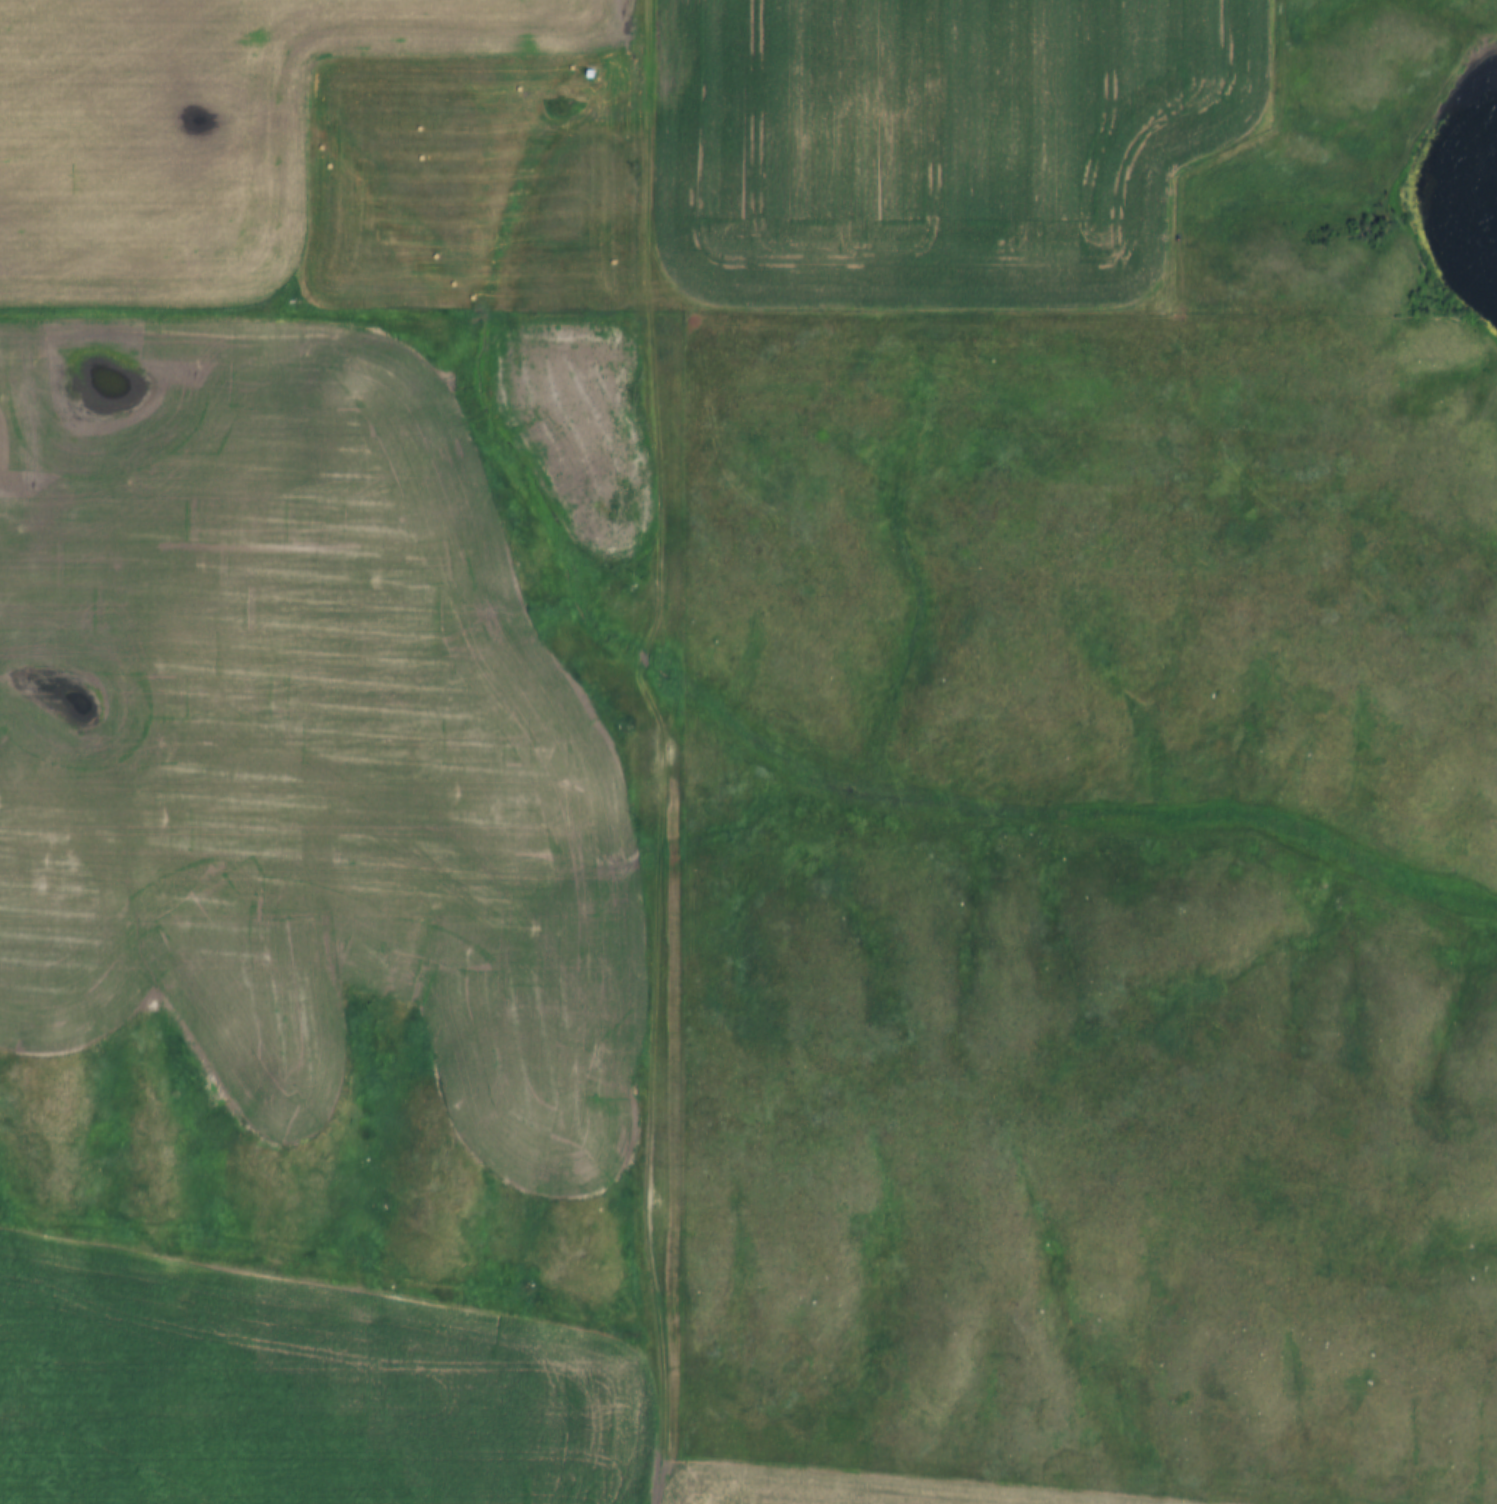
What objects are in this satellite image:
road: (659, 751)

